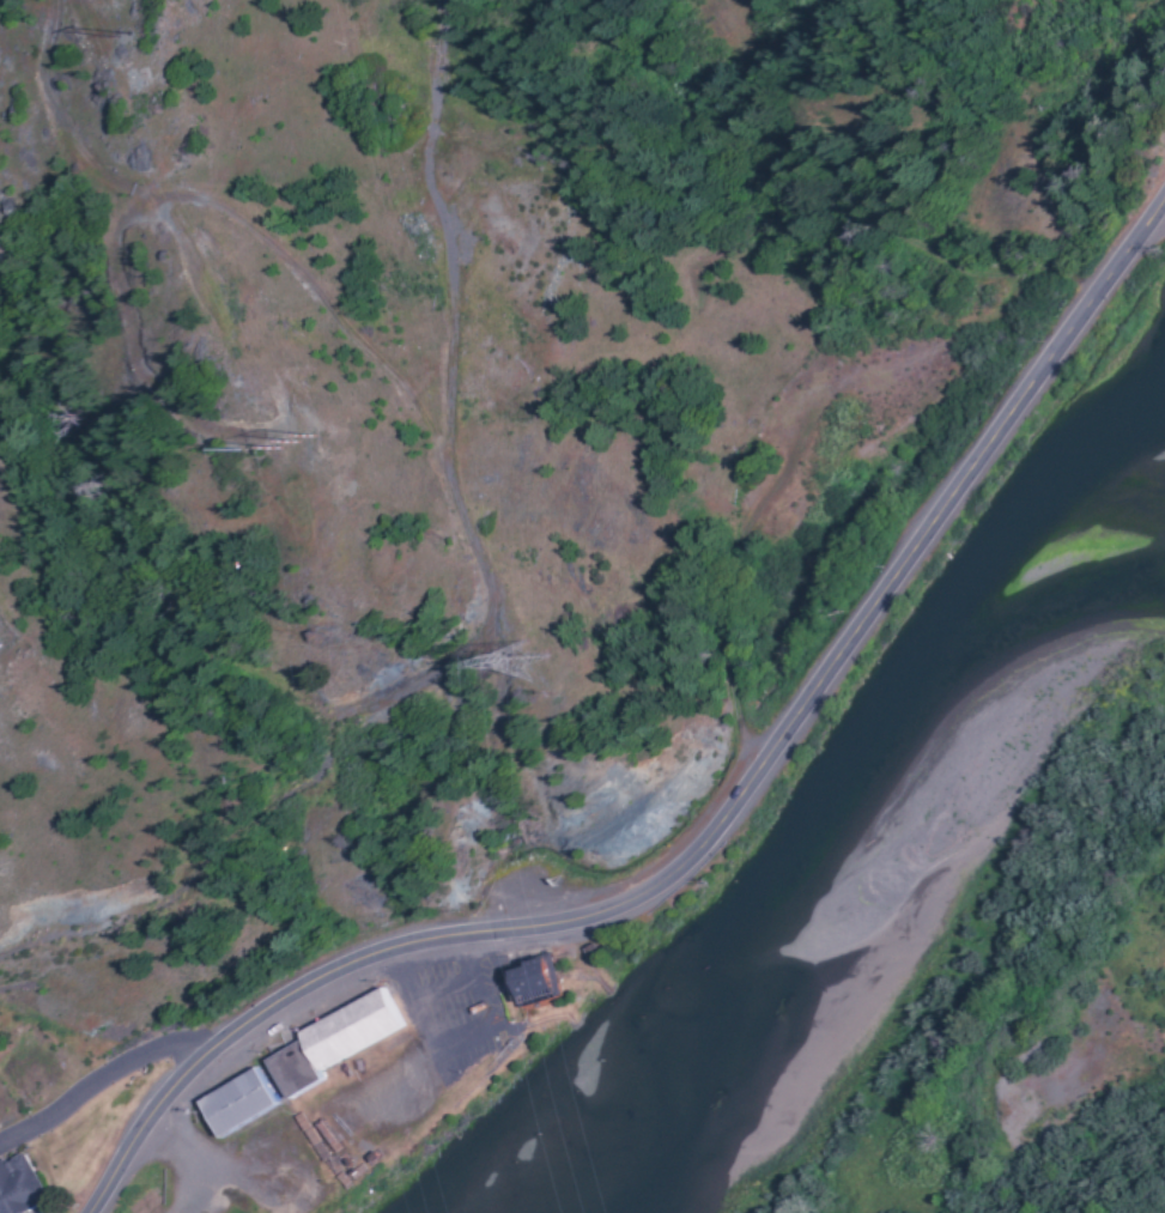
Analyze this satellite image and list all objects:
road: (459, 528)
power tower: (517, 665)
road: (717, 825)
building: (529, 982)
building: (346, 1030)
building: (289, 1069)
road: (96, 1084)
building: (232, 1103)
building: (23, 1185)

